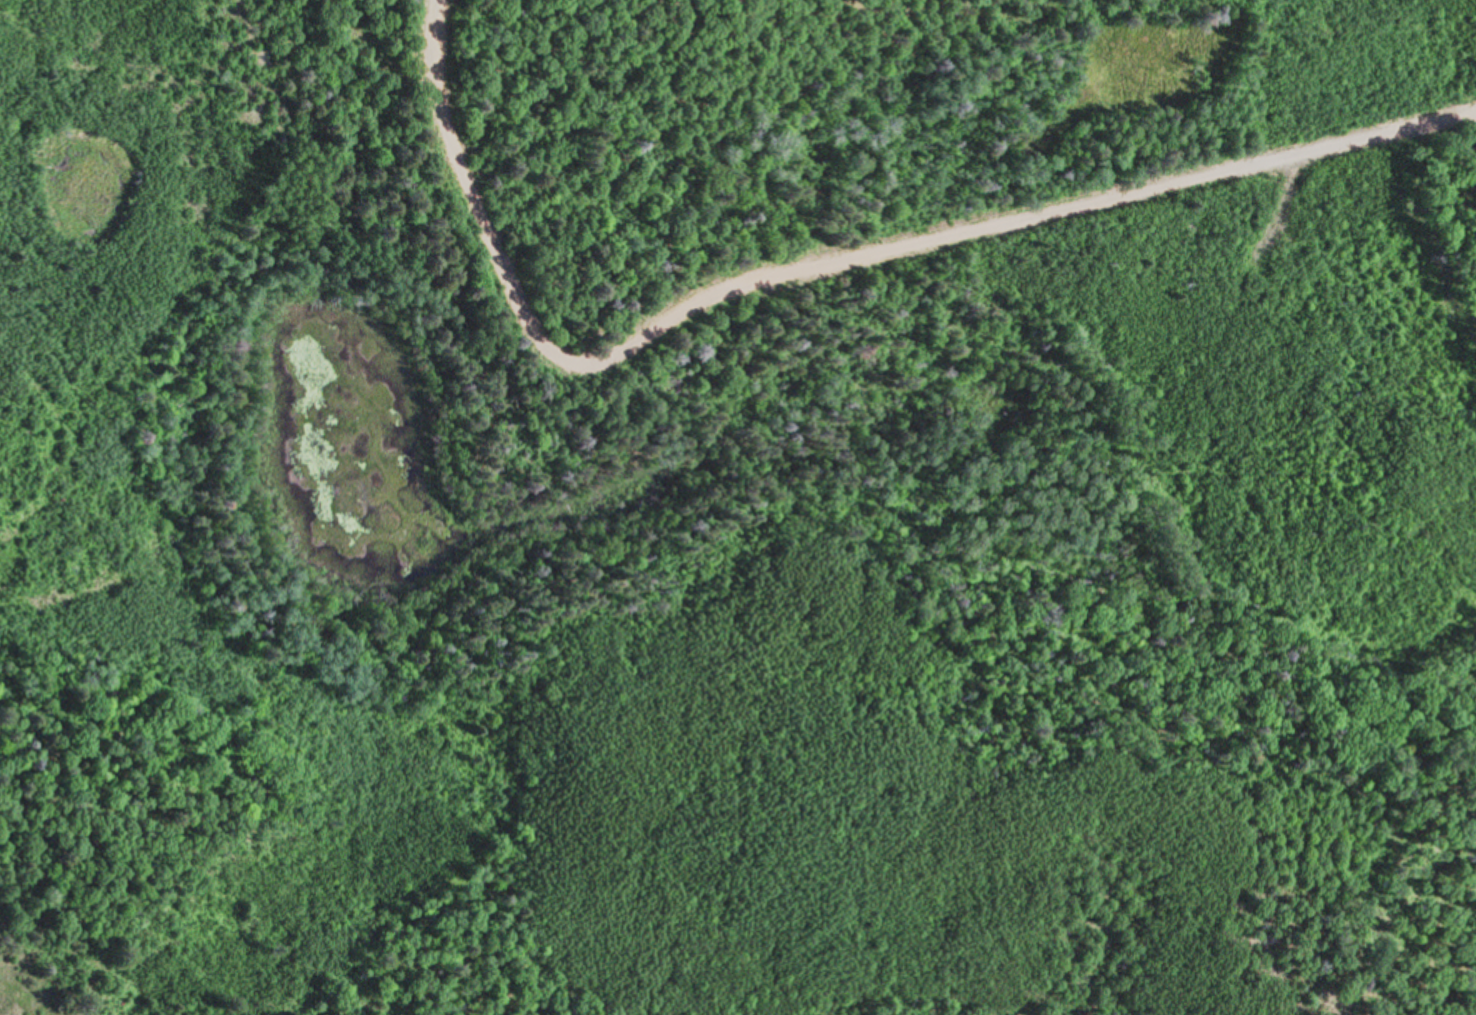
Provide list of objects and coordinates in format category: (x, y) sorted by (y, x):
road: (819, 265)

